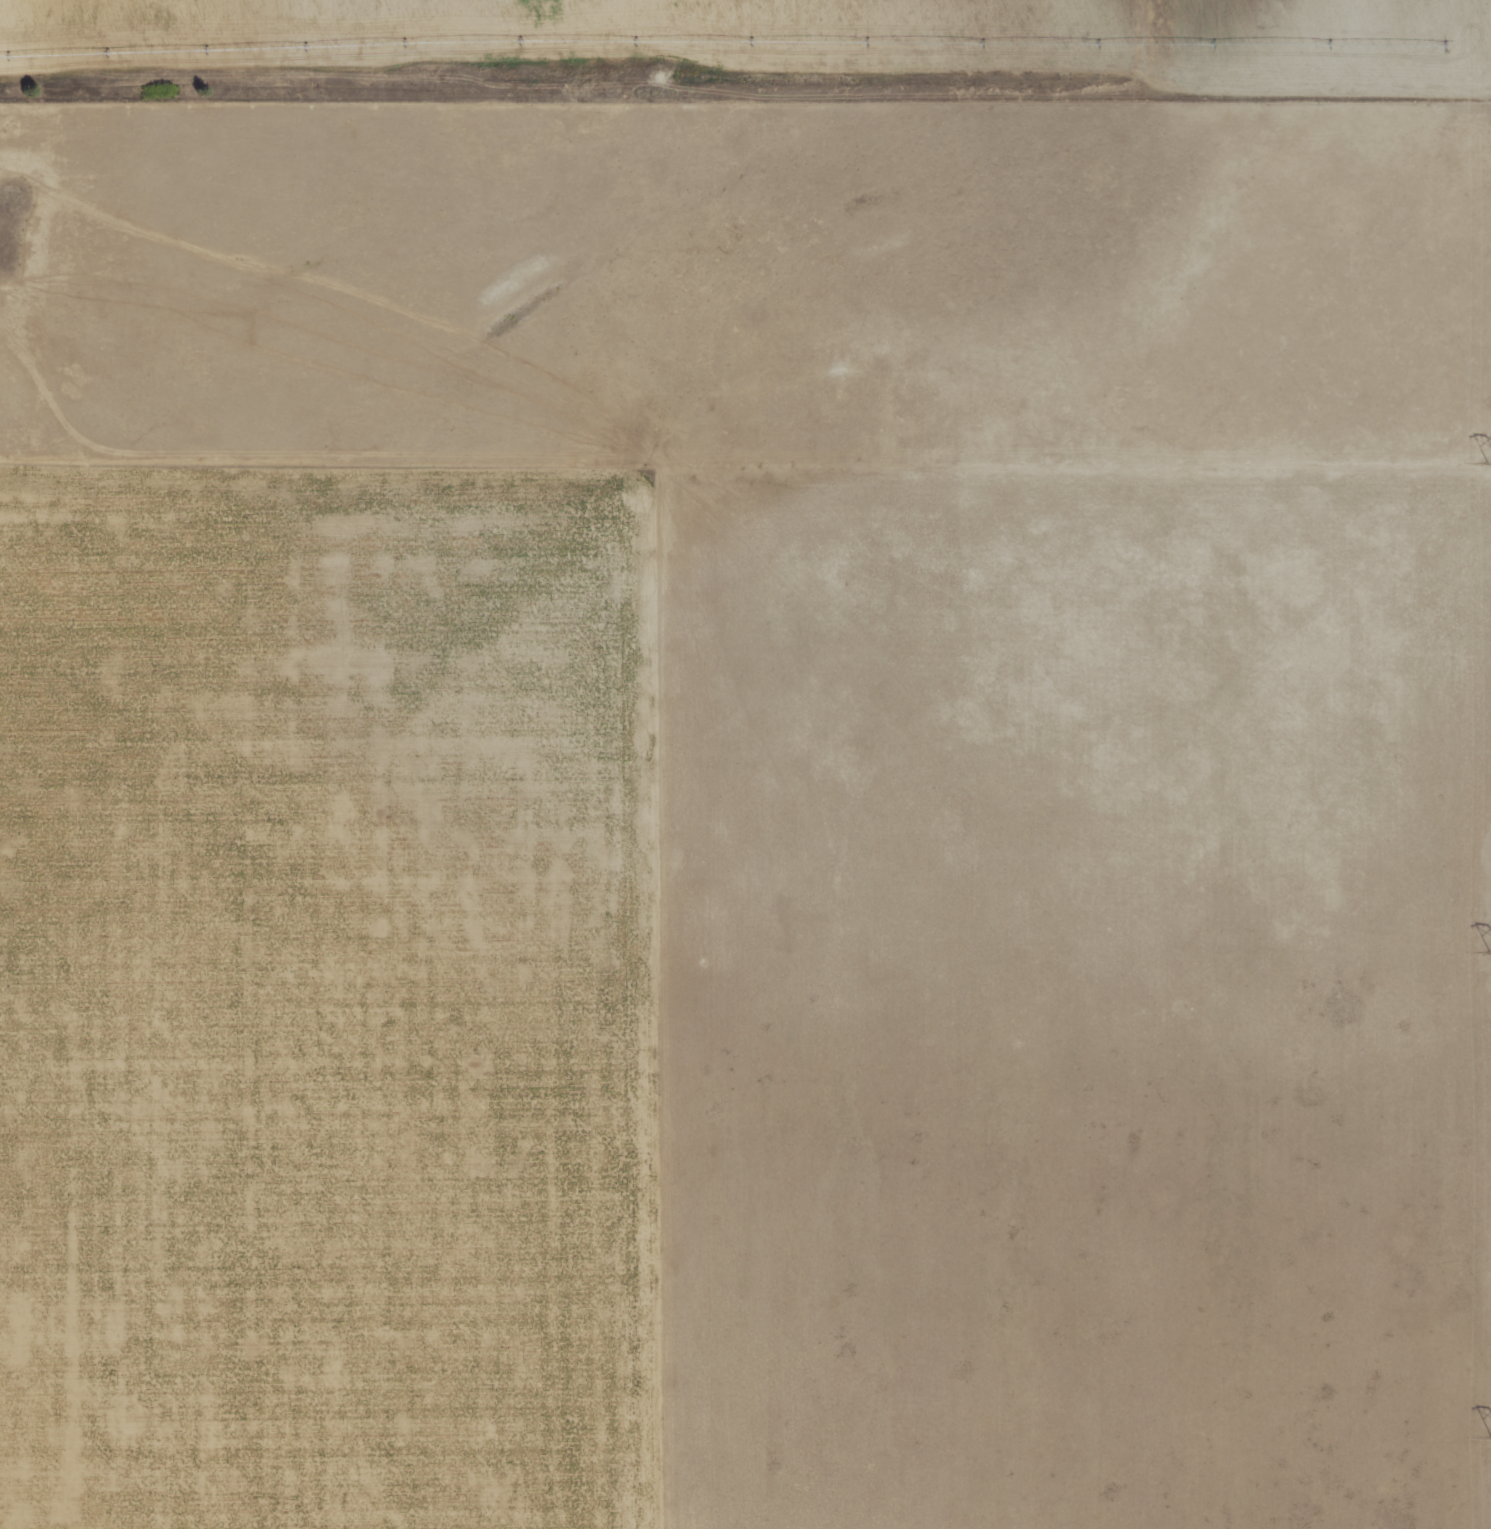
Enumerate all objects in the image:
power tower: (1490, 463)

